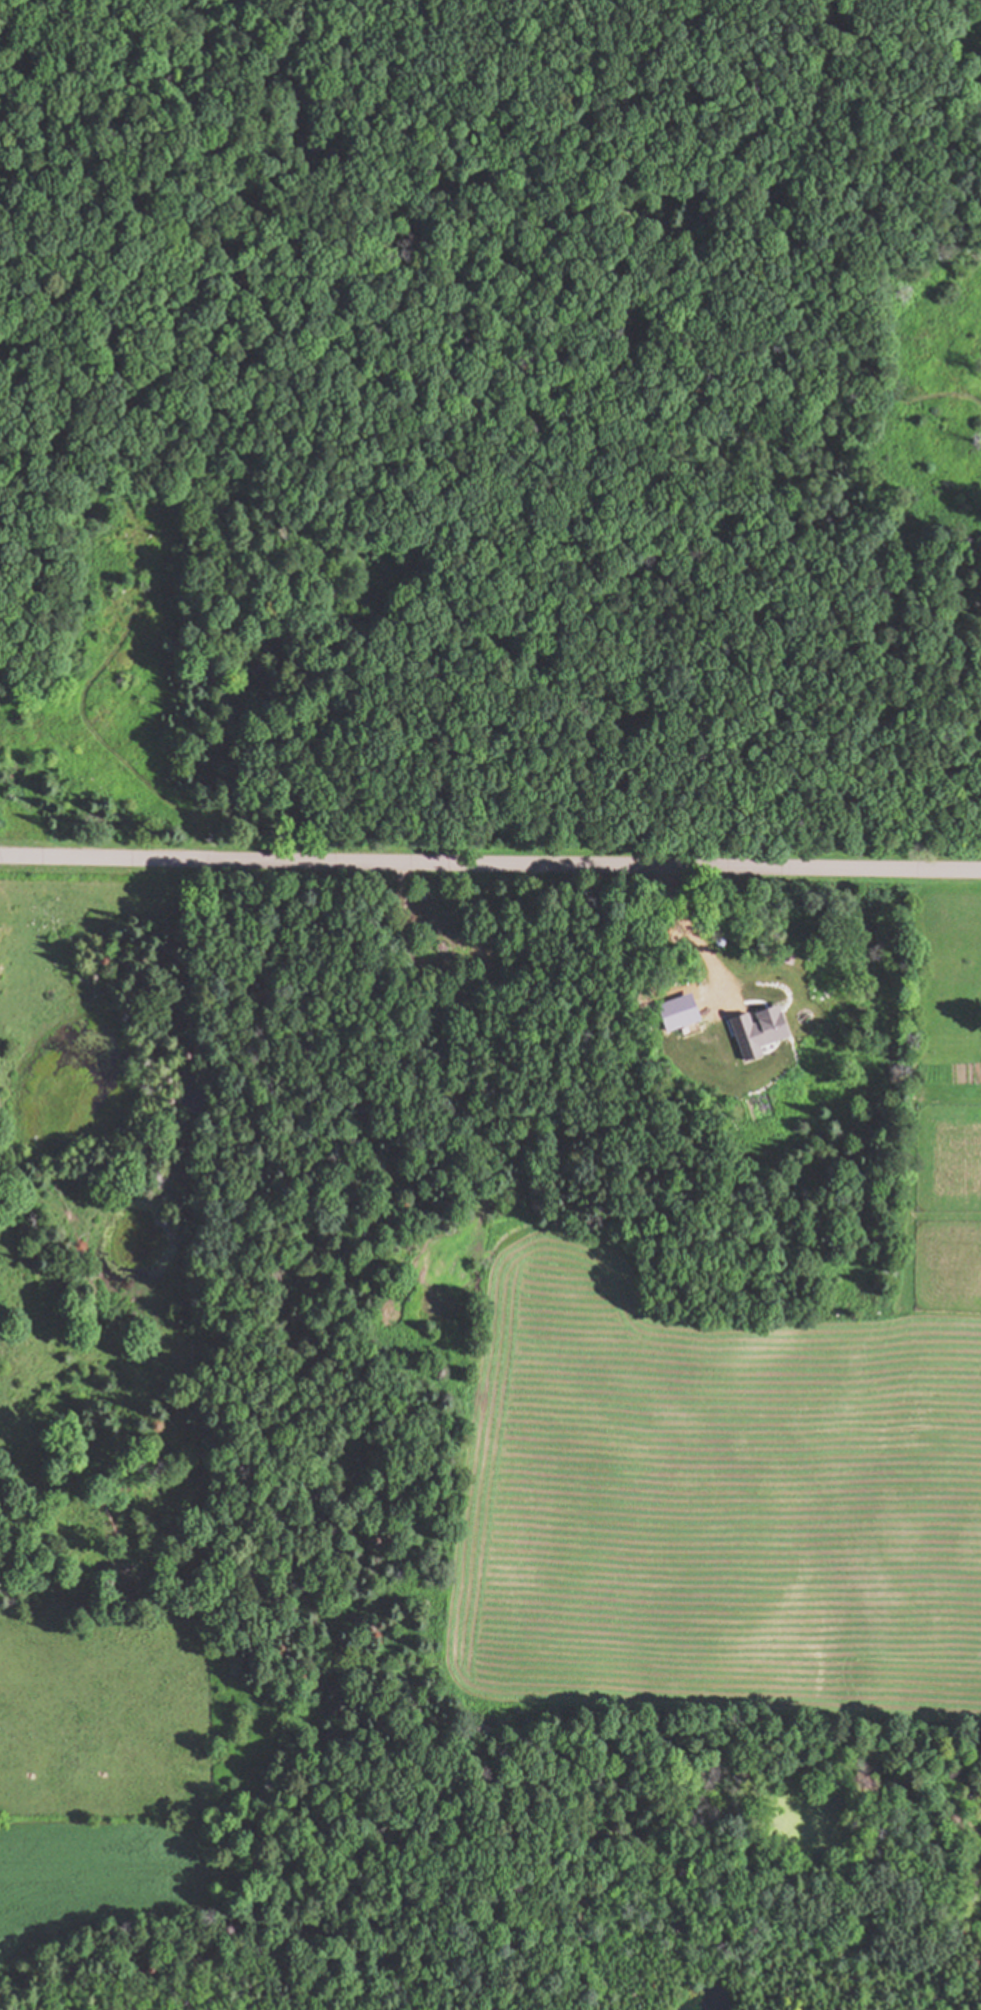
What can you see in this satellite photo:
road: (490, 864)

